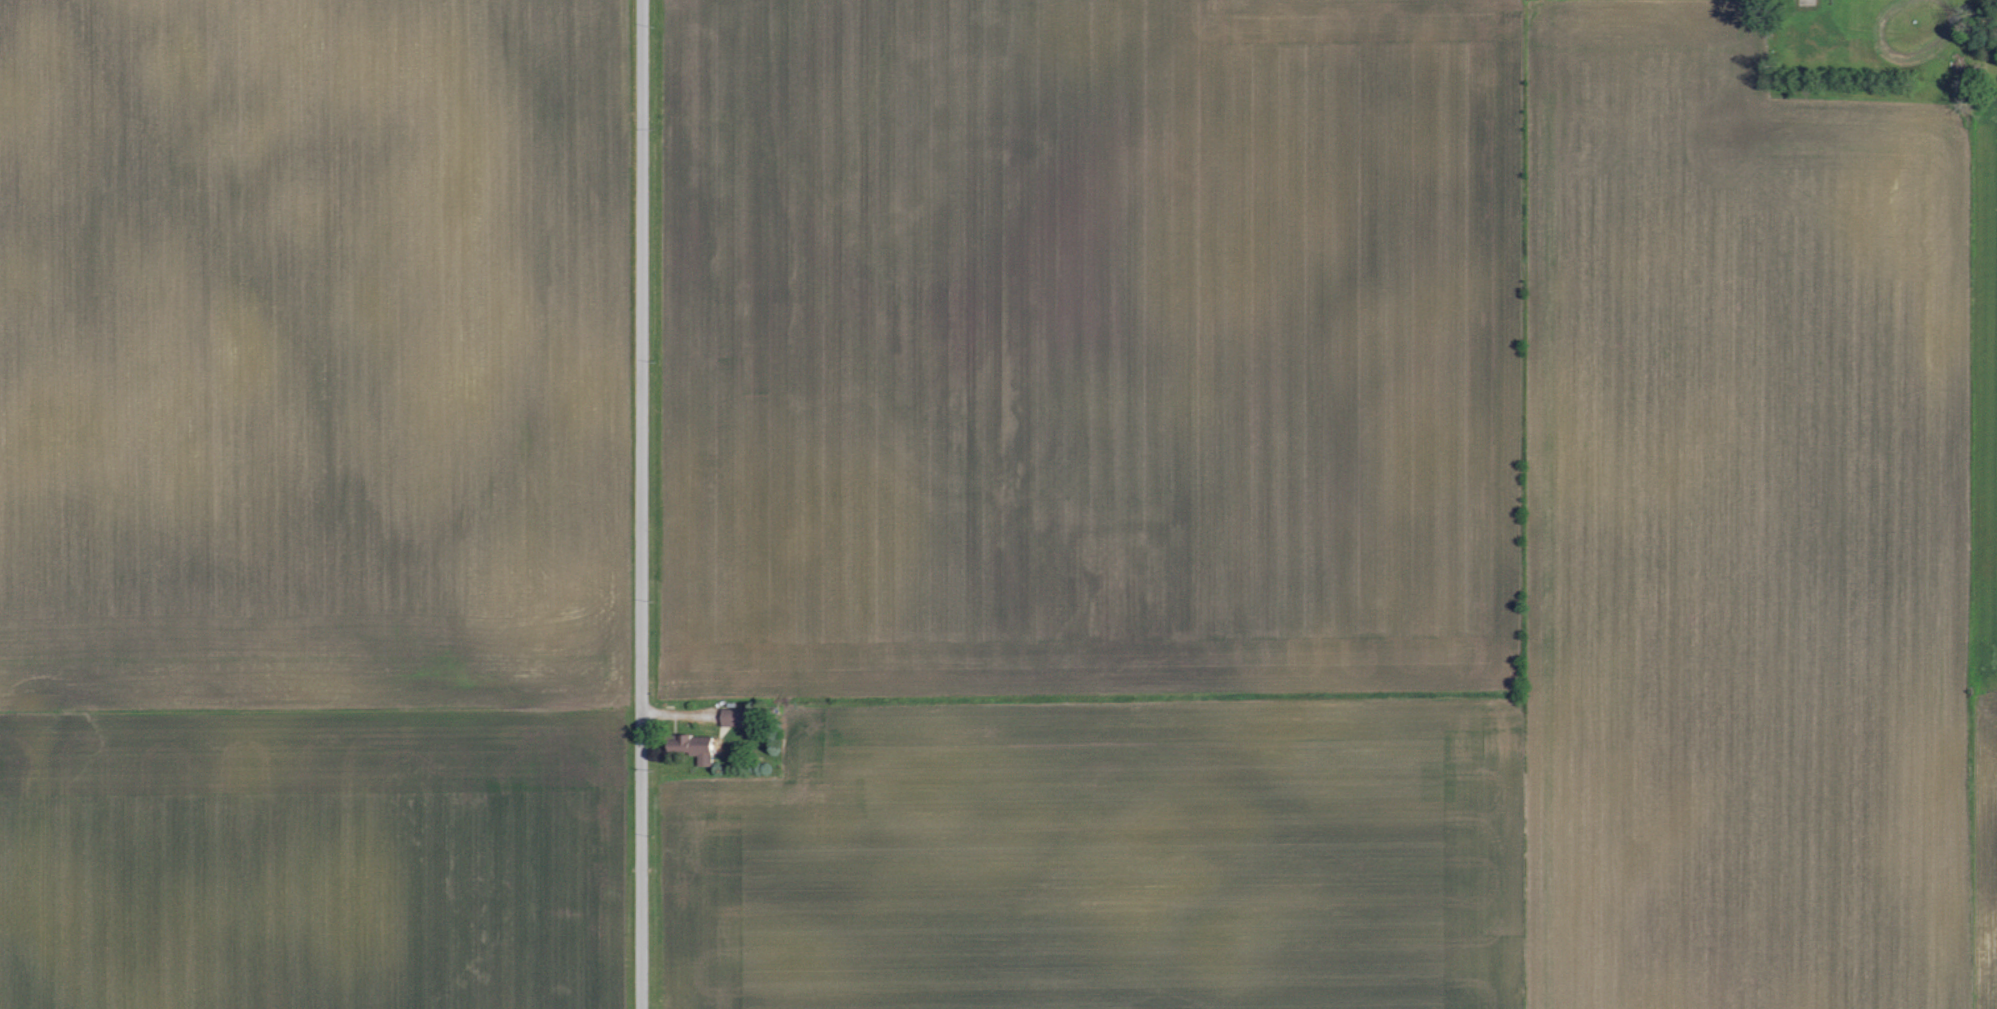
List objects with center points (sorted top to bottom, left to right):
road: (642, 504)
building: (730, 717)
building: (691, 747)

